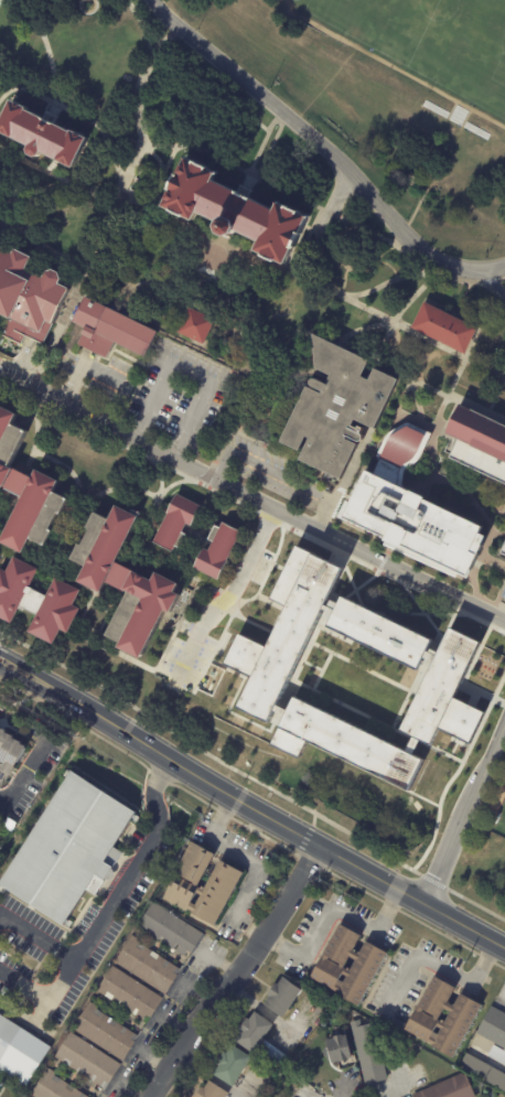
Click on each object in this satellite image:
road: (36, 22)
park: (427, 41)
road: (149, 44)
road: (191, 69)
road: (53, 73)
road: (29, 87)
road: (12, 89)
road: (137, 105)
road: (53, 110)
building: (42, 135)
road: (313, 140)
road: (136, 142)
road: (162, 172)
road: (57, 178)
road: (292, 195)
building: (235, 211)
road: (157, 216)
road: (491, 269)
road: (346, 272)
road: (432, 276)
road: (502, 279)
road: (488, 281)
road: (490, 281)
parking lot: (499, 289)
road: (364, 292)
road: (411, 299)
building: (26, 301)
building: (195, 324)
road: (364, 327)
building: (443, 327)
building: (110, 330)
road: (427, 338)
road: (79, 368)
road: (187, 376)
road: (455, 376)
road: (420, 383)
road: (494, 395)
building: (335, 407)
building: (4, 424)
road: (107, 427)
building: (477, 442)
road: (281, 475)
building: (9, 482)
road: (241, 495)
building: (420, 506)
building: (30, 516)
building: (172, 528)
building: (502, 552)
building: (215, 553)
road: (387, 567)
building: (119, 588)
road: (225, 596)
building: (502, 599)
building: (34, 604)
building: (284, 633)
building: (379, 634)
building: (445, 693)
building: (345, 744)
building: (9, 755)
road: (33, 764)
road: (251, 805)
road: (462, 807)
park: (498, 820)
building: (67, 847)
road: (249, 859)
building: (224, 880)
road: (114, 901)
building: (170, 929)
road: (375, 929)
road: (254, 934)
road: (307, 953)
building: (366, 964)
road: (437, 965)
building: (146, 966)
road: (235, 972)
building: (128, 993)
road: (42, 997)
building: (281, 997)
building: (461, 1017)
building: (494, 1028)
building: (253, 1032)
building: (105, 1033)
building: (337, 1050)
building: (504, 1050)
building: (368, 1053)
building: (19, 1054)
building: (272, 1054)
building: (87, 1061)
building: (232, 1065)
building: (483, 1072)
building: (53, 1087)
building: (449, 1088)
building: (211, 1090)
road: (248, 1094)

